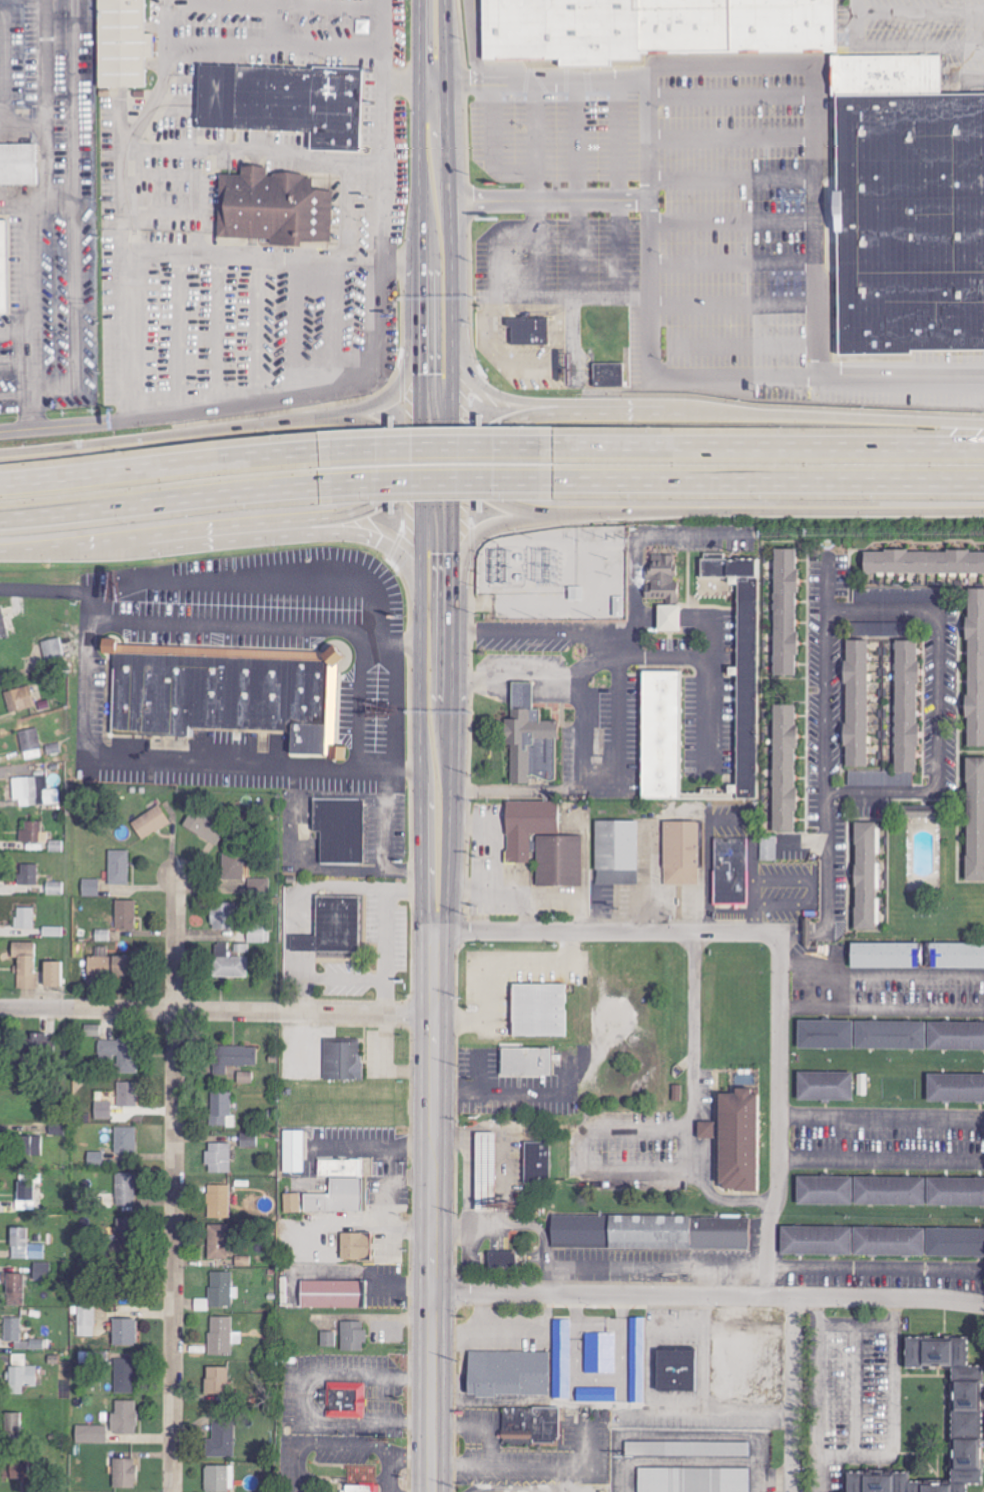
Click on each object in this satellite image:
road: (922, 17)
building: (683, 27)
building: (783, 27)
building: (562, 31)
parking lot: (930, 32)
building: (123, 42)
road: (250, 45)
road: (897, 50)
road: (381, 59)
building: (890, 74)
building: (285, 101)
road: (737, 103)
road: (821, 103)
road: (738, 142)
road: (128, 146)
road: (240, 147)
road: (499, 150)
building: (17, 163)
road: (738, 183)
road: (542, 190)
road: (620, 190)
road: (580, 191)
road: (381, 192)
road: (551, 201)
building: (273, 208)
building: (911, 222)
road: (417, 225)
road: (450, 226)
road: (739, 227)
parking lot: (674, 255)
building: (3, 269)
road: (739, 270)
road: (576, 302)
road: (739, 308)
building: (315, 316)
road: (655, 317)
building: (526, 328)
road: (129, 340)
road: (739, 350)
road: (496, 359)
road: (31, 362)
traffic signals: (418, 375)
building: (608, 375)
road: (476, 381)
road: (388, 394)
road: (619, 411)
road: (836, 418)
road: (114, 419)
road: (359, 420)
road: (50, 425)
road: (498, 426)
road: (146, 439)
traffic signals: (475, 439)
road: (766, 446)
road: (431, 447)
road: (427, 457)
road: (444, 458)
road: (452, 463)
road: (418, 464)
road: (158, 468)
road: (444, 468)
road: (427, 469)
road: (766, 482)
road: (433, 483)
traffic signals: (396, 493)
road: (159, 504)
road: (364, 507)
road: (515, 507)
road: (785, 512)
road: (483, 530)
road: (199, 536)
road: (374, 538)
traffic signals: (380, 540)
road: (46, 549)
traffic signals: (452, 553)
building: (922, 562)
building: (663, 577)
road: (205, 580)
road: (828, 583)
road: (90, 607)
building: (784, 612)
road: (884, 612)
building: (668, 618)
building: (3, 623)
road: (594, 647)
building: (53, 651)
building: (974, 667)
road: (709, 669)
building: (740, 675)
building: (227, 692)
road: (89, 694)
building: (20, 699)
road: (827, 700)
road: (451, 703)
building: (855, 703)
road: (419, 704)
building: (905, 706)
building: (661, 735)
building: (529, 738)
building: (31, 743)
road: (939, 758)
building: (783, 767)
building: (881, 778)
road: (609, 784)
building: (35, 791)
building: (919, 814)
building: (974, 818)
building: (150, 822)
building: (339, 829)
building: (34, 833)
road: (384, 837)
building: (543, 843)
building: (616, 845)
building: (774, 846)
building: (681, 853)
building: (119, 867)
building: (233, 867)
building: (731, 870)
building: (28, 874)
building: (865, 874)
building: (617, 877)
road: (827, 885)
building: (258, 886)
building: (91, 887)
building: (56, 888)
building: (126, 914)
building: (221, 916)
building: (25, 918)
building: (332, 926)
building: (53, 931)
building: (260, 932)
road: (608, 932)
road: (781, 944)
building: (242, 948)
road: (804, 951)
building: (916, 955)
building: (228, 963)
building: (25, 965)
building: (110, 966)
building: (51, 974)
road: (882, 976)
building: (539, 1009)
road: (216, 1011)
building: (92, 1030)
building: (824, 1034)
building: (889, 1035)
building: (955, 1036)
building: (39, 1039)
building: (119, 1054)
building: (234, 1057)
building: (527, 1059)
building: (342, 1060)
building: (244, 1077)
building: (824, 1086)
building: (955, 1088)
building: (128, 1094)
road: (695, 1099)
building: (104, 1110)
building: (222, 1110)
road: (780, 1125)
building: (56, 1129)
building: (705, 1130)
building: (739, 1138)
building: (126, 1140)
building: (249, 1140)
road: (374, 1144)
building: (30, 1146)
road: (585, 1149)
building: (293, 1151)
building: (219, 1157)
road: (882, 1158)
building: (536, 1161)
building: (490, 1171)
road: (174, 1183)
building: (340, 1187)
building: (126, 1189)
building: (26, 1191)
building: (823, 1191)
building: (888, 1191)
building: (955, 1192)
building: (219, 1201)
building: (293, 1203)
road: (434, 1211)
building: (650, 1233)
building: (852, 1242)
building: (954, 1243)
building: (25, 1246)
building: (356, 1246)
building: (502, 1261)
building: (43, 1271)
building: (15, 1289)
building: (221, 1289)
building: (332, 1294)
road: (708, 1296)
building: (86, 1321)
road: (858, 1323)
building: (124, 1332)
building: (20, 1335)
building: (220, 1336)
building: (353, 1336)
building: (328, 1339)
building: (601, 1353)
building: (563, 1359)
building: (637, 1360)
building: (675, 1371)
building: (508, 1374)
building: (21, 1375)
building: (125, 1376)
building: (217, 1383)
road: (793, 1394)
road: (821, 1395)
building: (345, 1400)
road: (896, 1412)
building: (124, 1418)
building: (965, 1420)
building: (12, 1423)
building: (530, 1426)
building: (91, 1434)
building: (221, 1442)
building: (688, 1449)
building: (14, 1469)
building: (124, 1474)
building: (219, 1479)
building: (692, 1480)
building: (362, 1488)

